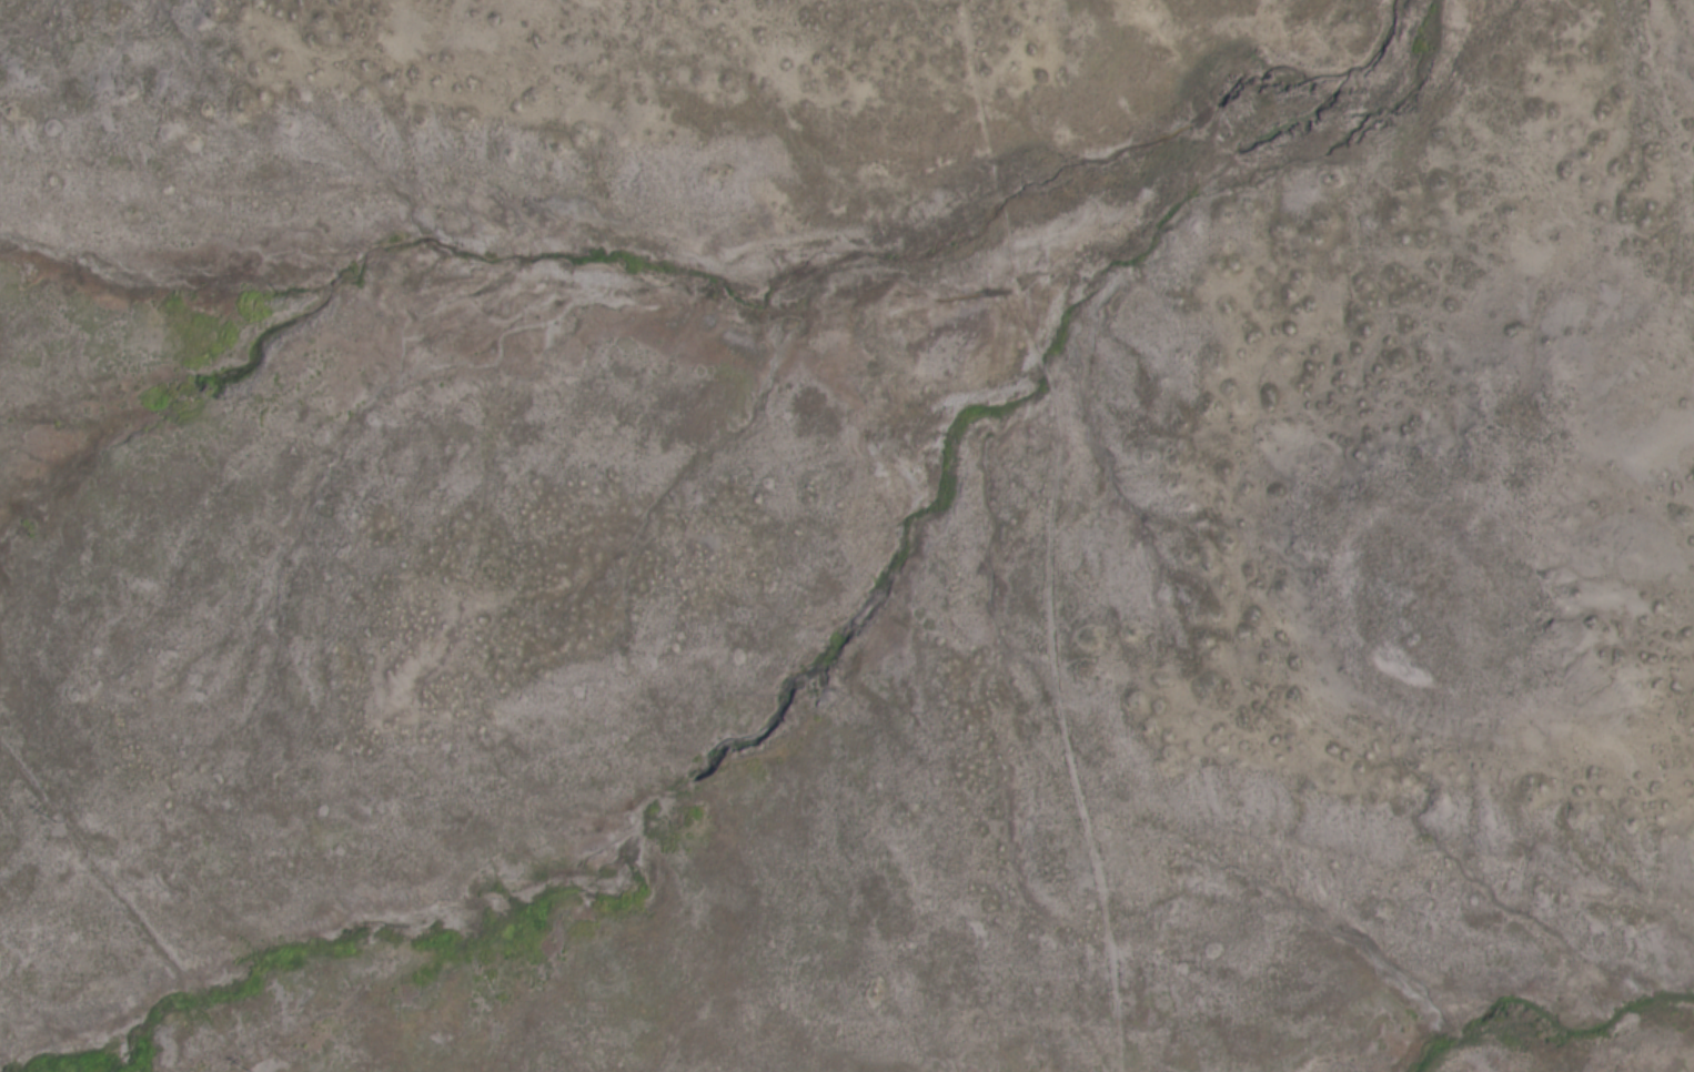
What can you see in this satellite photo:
power tower: (64, 826)

